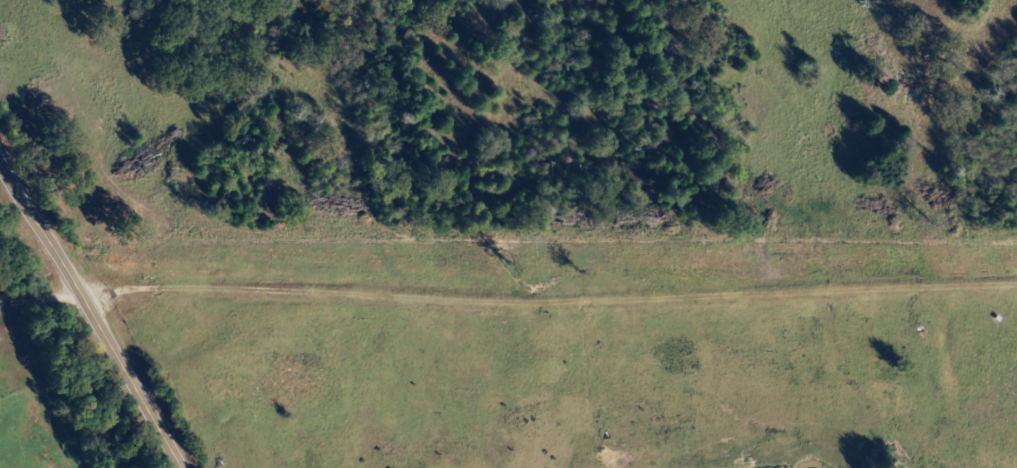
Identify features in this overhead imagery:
road: (547, 288)
road: (91, 309)

